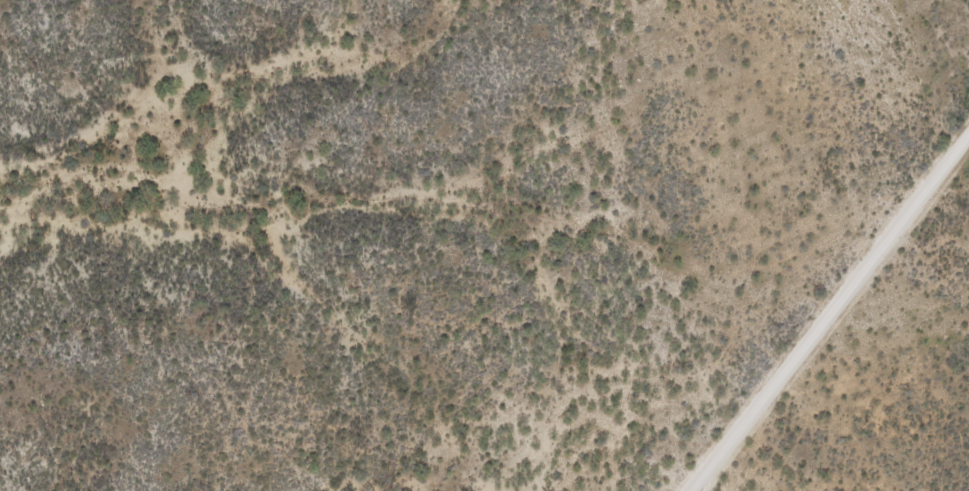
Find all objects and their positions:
road: (828, 311)

